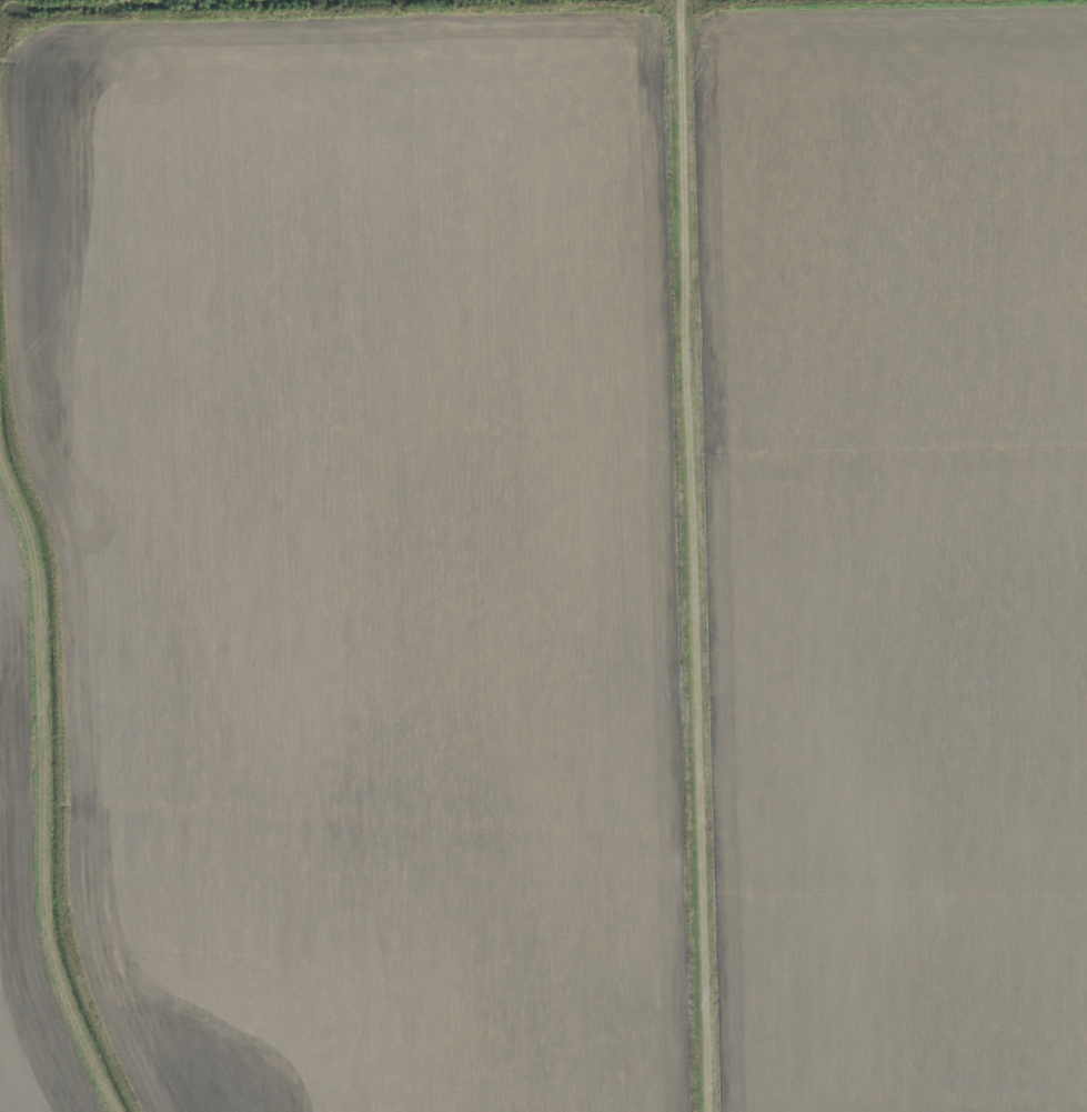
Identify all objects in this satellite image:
road: (714, 555)

